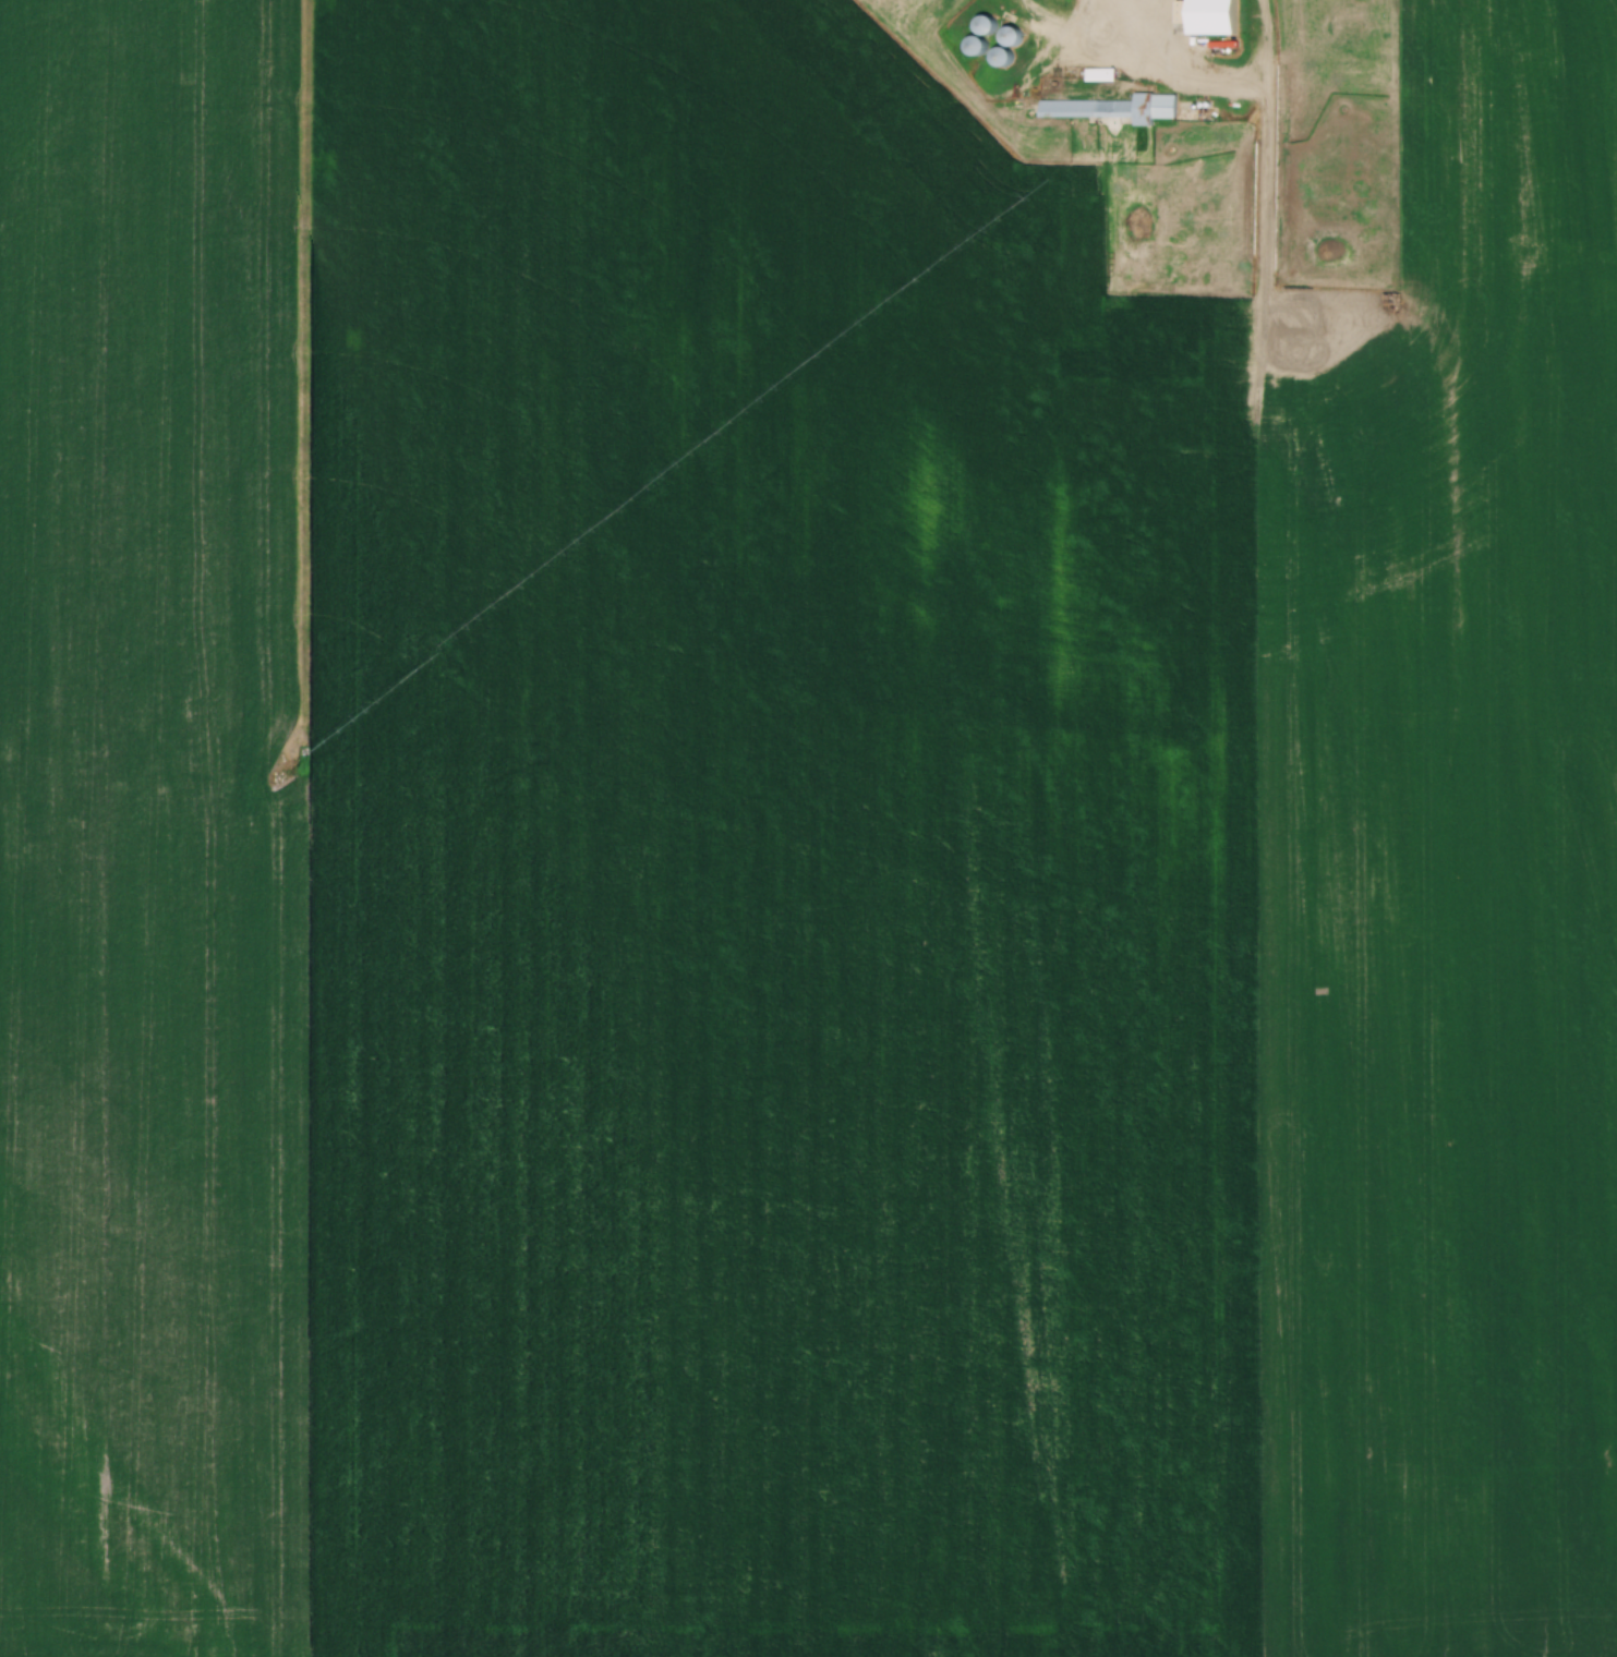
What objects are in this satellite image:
road: (1118, 4)
building: (1207, 16)
road: (1067, 21)
road: (1268, 49)
road: (1263, 95)
building: (1111, 108)
building: (1312, 197)

